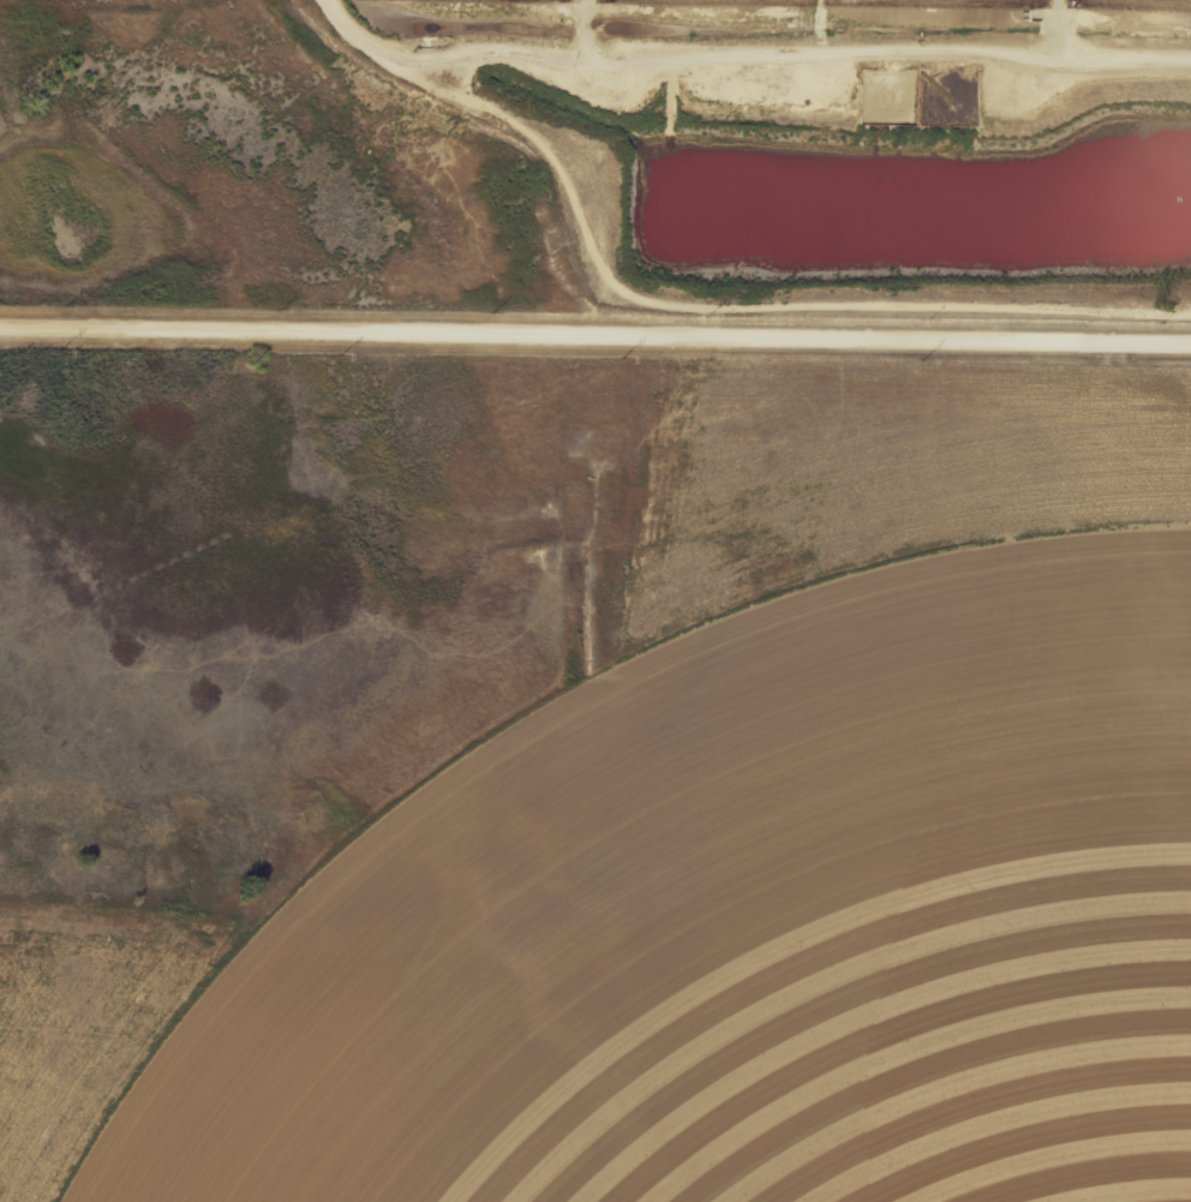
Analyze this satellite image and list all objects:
road: (594, 336)

